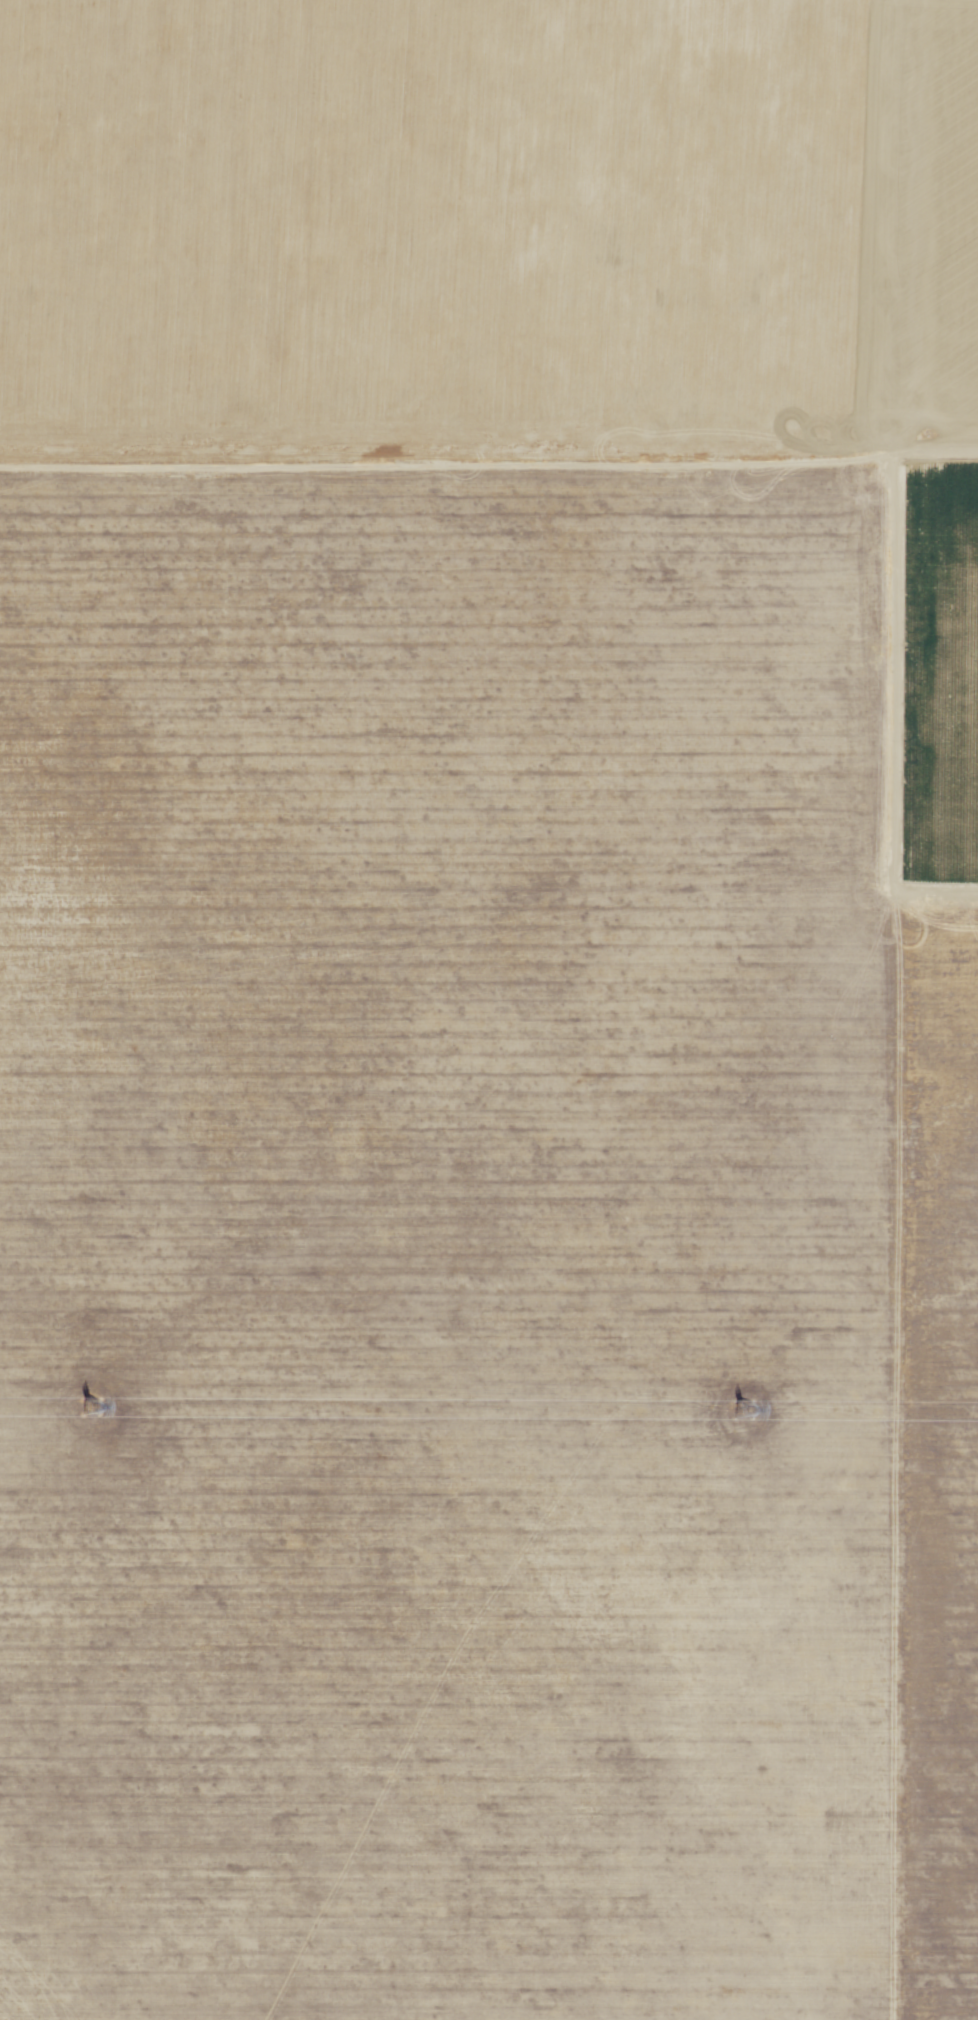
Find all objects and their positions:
road: (489, 453)
road: (920, 1009)
power tower: (88, 1408)
power tower: (741, 1410)

